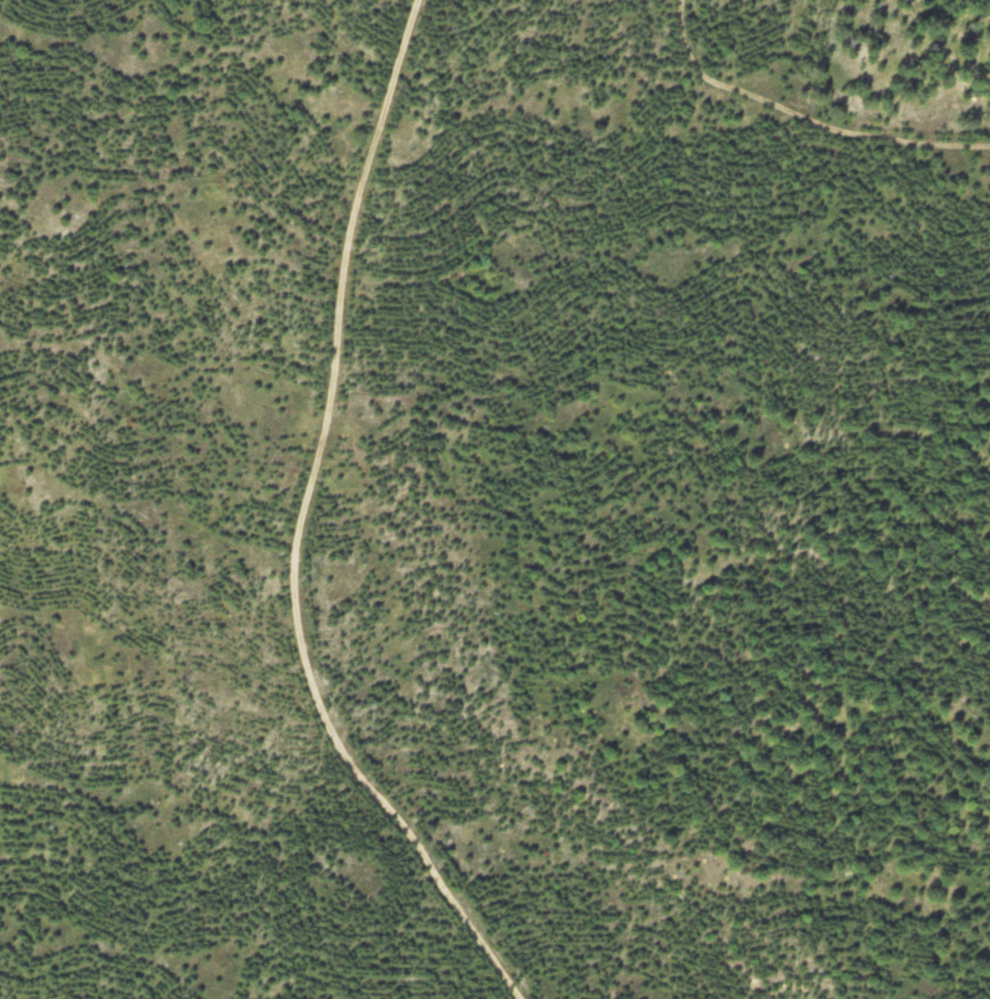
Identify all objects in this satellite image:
road: (804, 118)
road: (306, 526)

